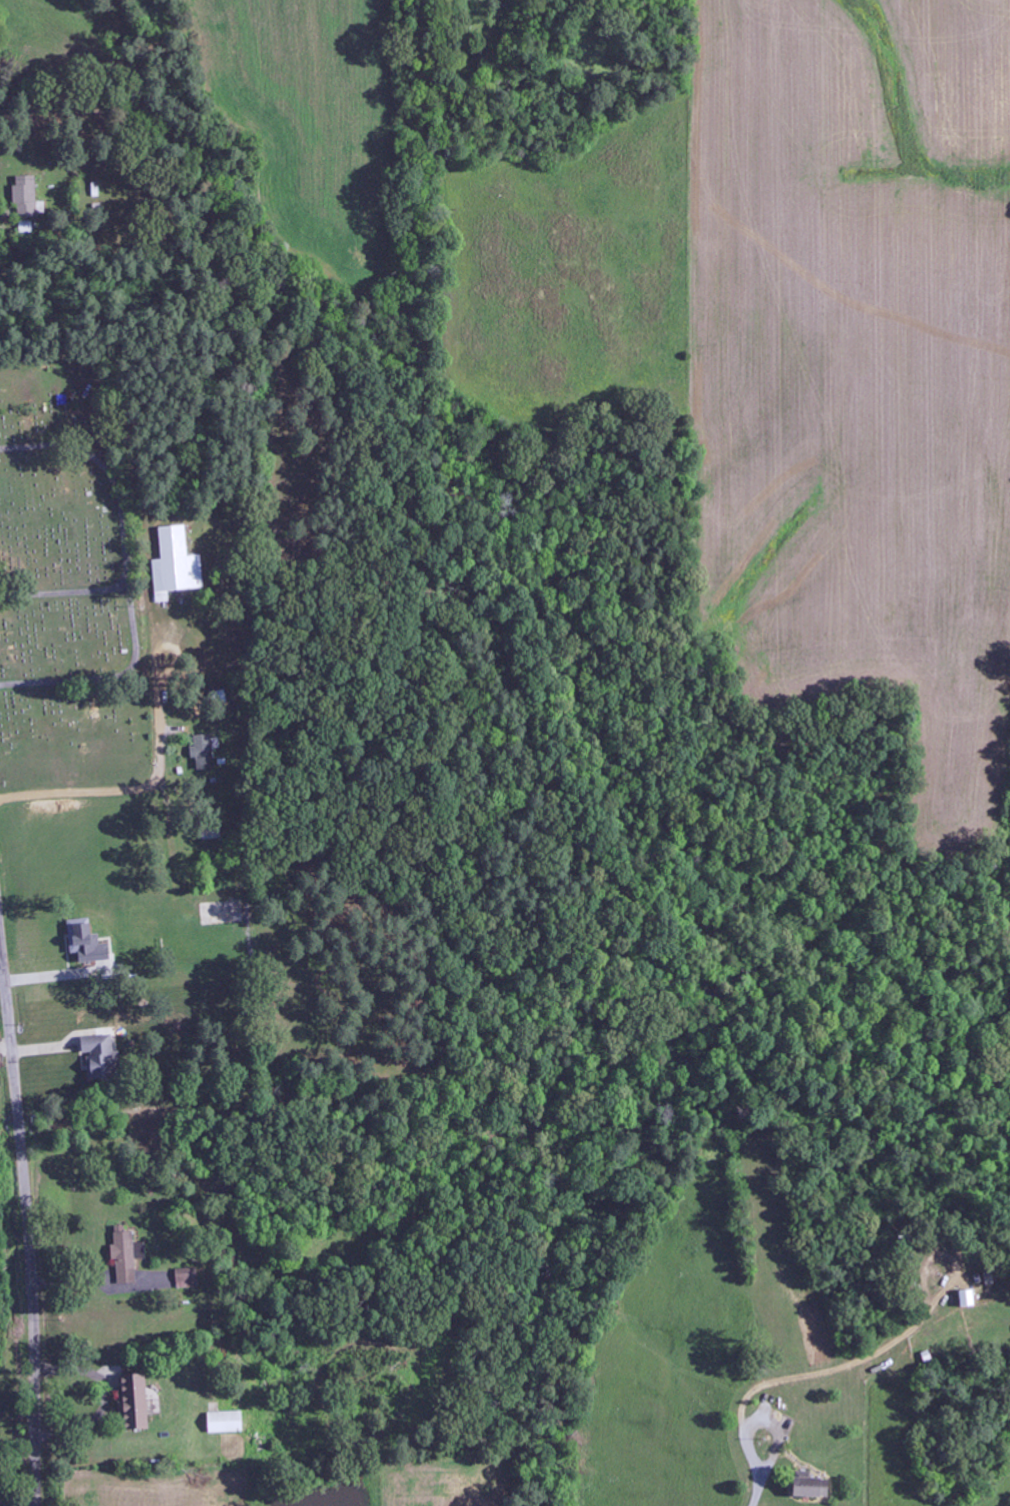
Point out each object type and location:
building: (25, 196)
building: (175, 565)
park: (68, 580)
building: (206, 752)
building: (88, 942)
building: (101, 1056)
road: (27, 1227)
building: (127, 1255)
building: (188, 1278)
building: (971, 1299)
building: (138, 1401)
building: (228, 1422)
building: (813, 1486)

